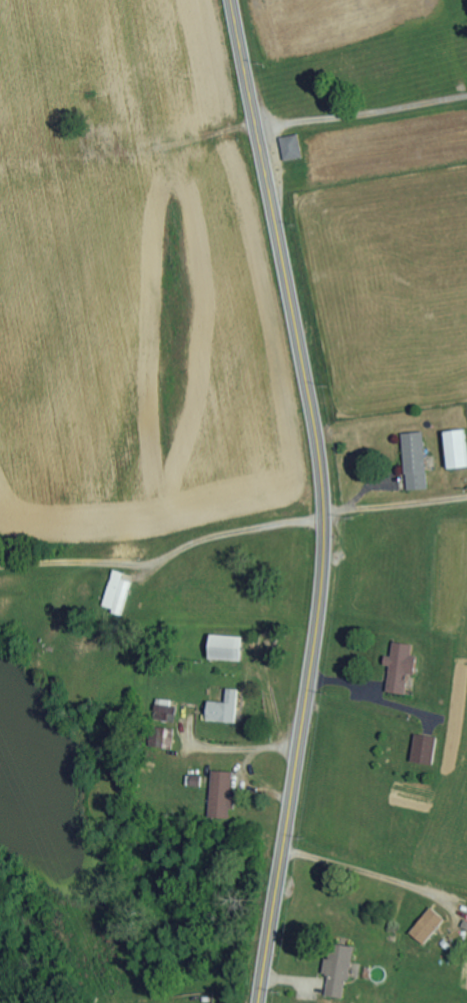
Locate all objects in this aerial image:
road: (362, 116)
building: (290, 146)
building: (455, 448)
building: (414, 460)
road: (323, 499)
road: (162, 552)
building: (116, 592)
building: (224, 647)
building: (399, 666)
building: (163, 708)
building: (222, 708)
building: (156, 736)
building: (423, 748)
building: (219, 793)
road: (381, 876)
building: (426, 925)
building: (336, 970)

